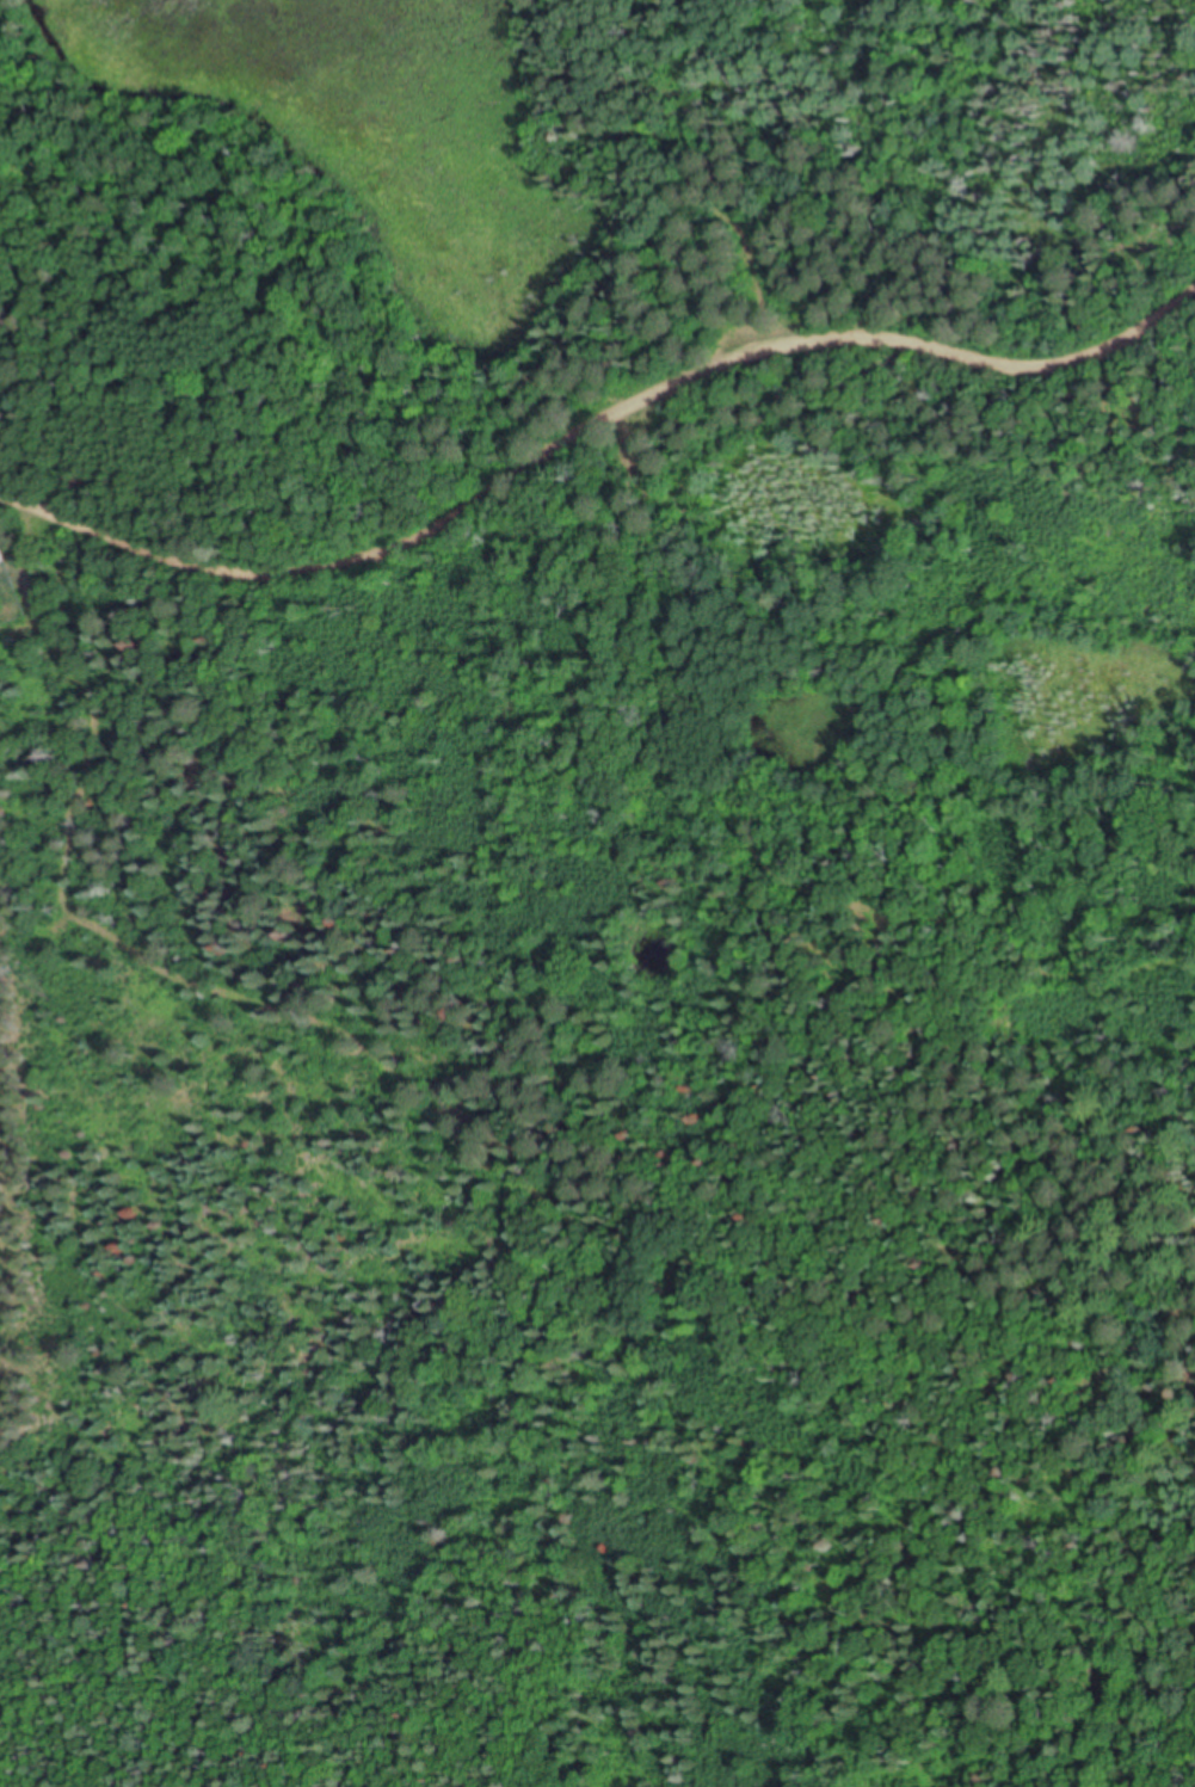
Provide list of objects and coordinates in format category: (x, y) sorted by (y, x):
road: (585, 429)

